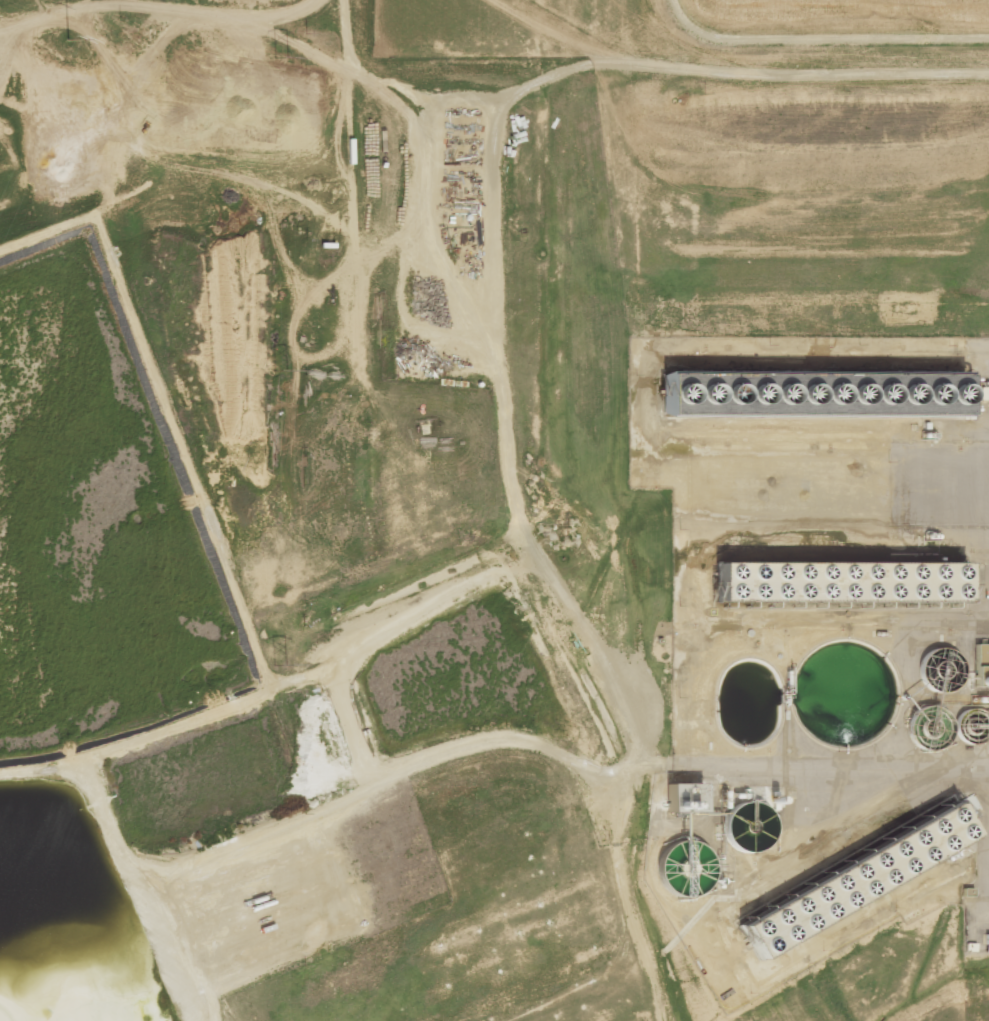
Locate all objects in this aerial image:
power tower: (64, 40)
power tower: (278, 55)
building: (818, 395)
power plant: (494, 510)
building: (843, 581)
power tower: (280, 664)
building: (853, 880)
building: (986, 943)

